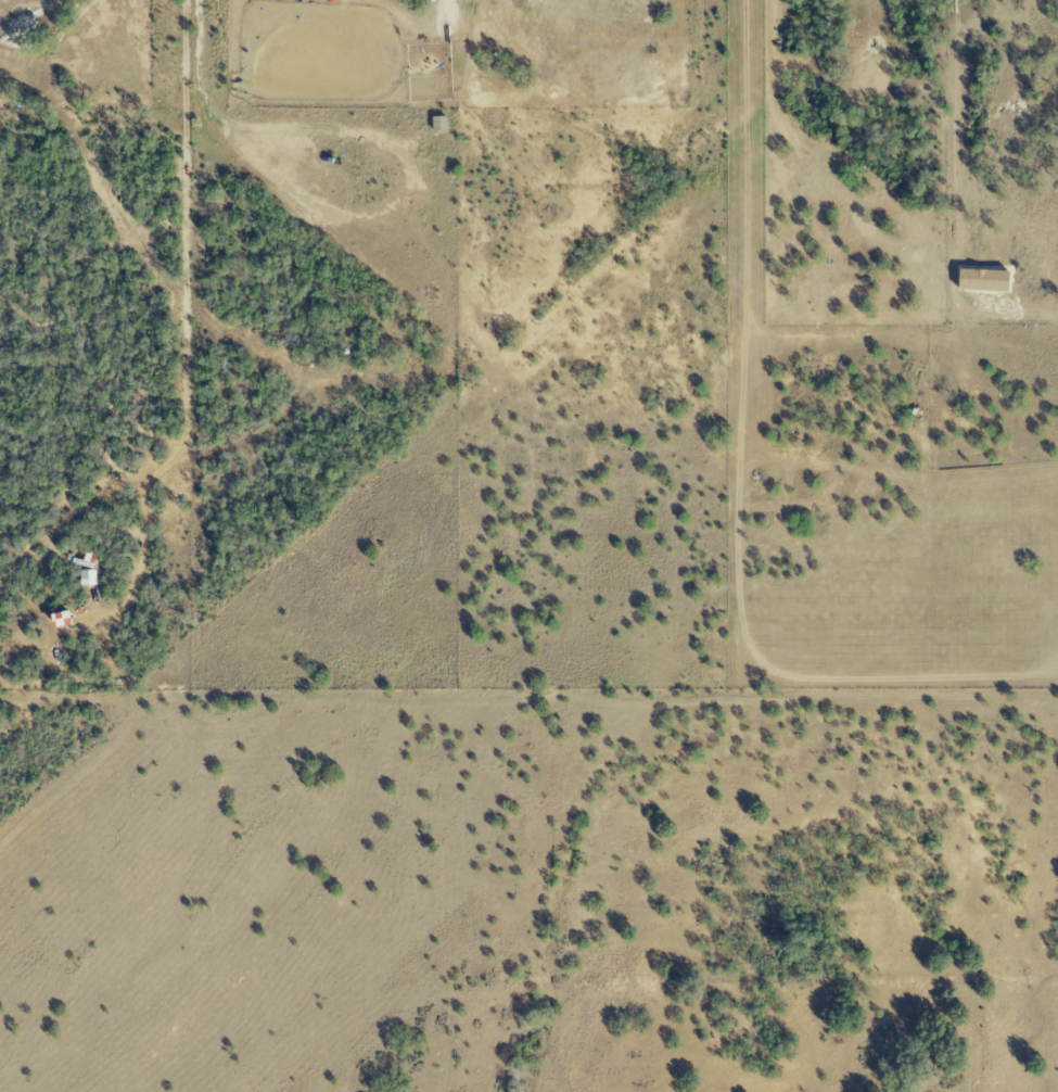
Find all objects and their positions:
road: (25, 16)
building: (437, 124)
road: (187, 325)
building: (87, 577)

